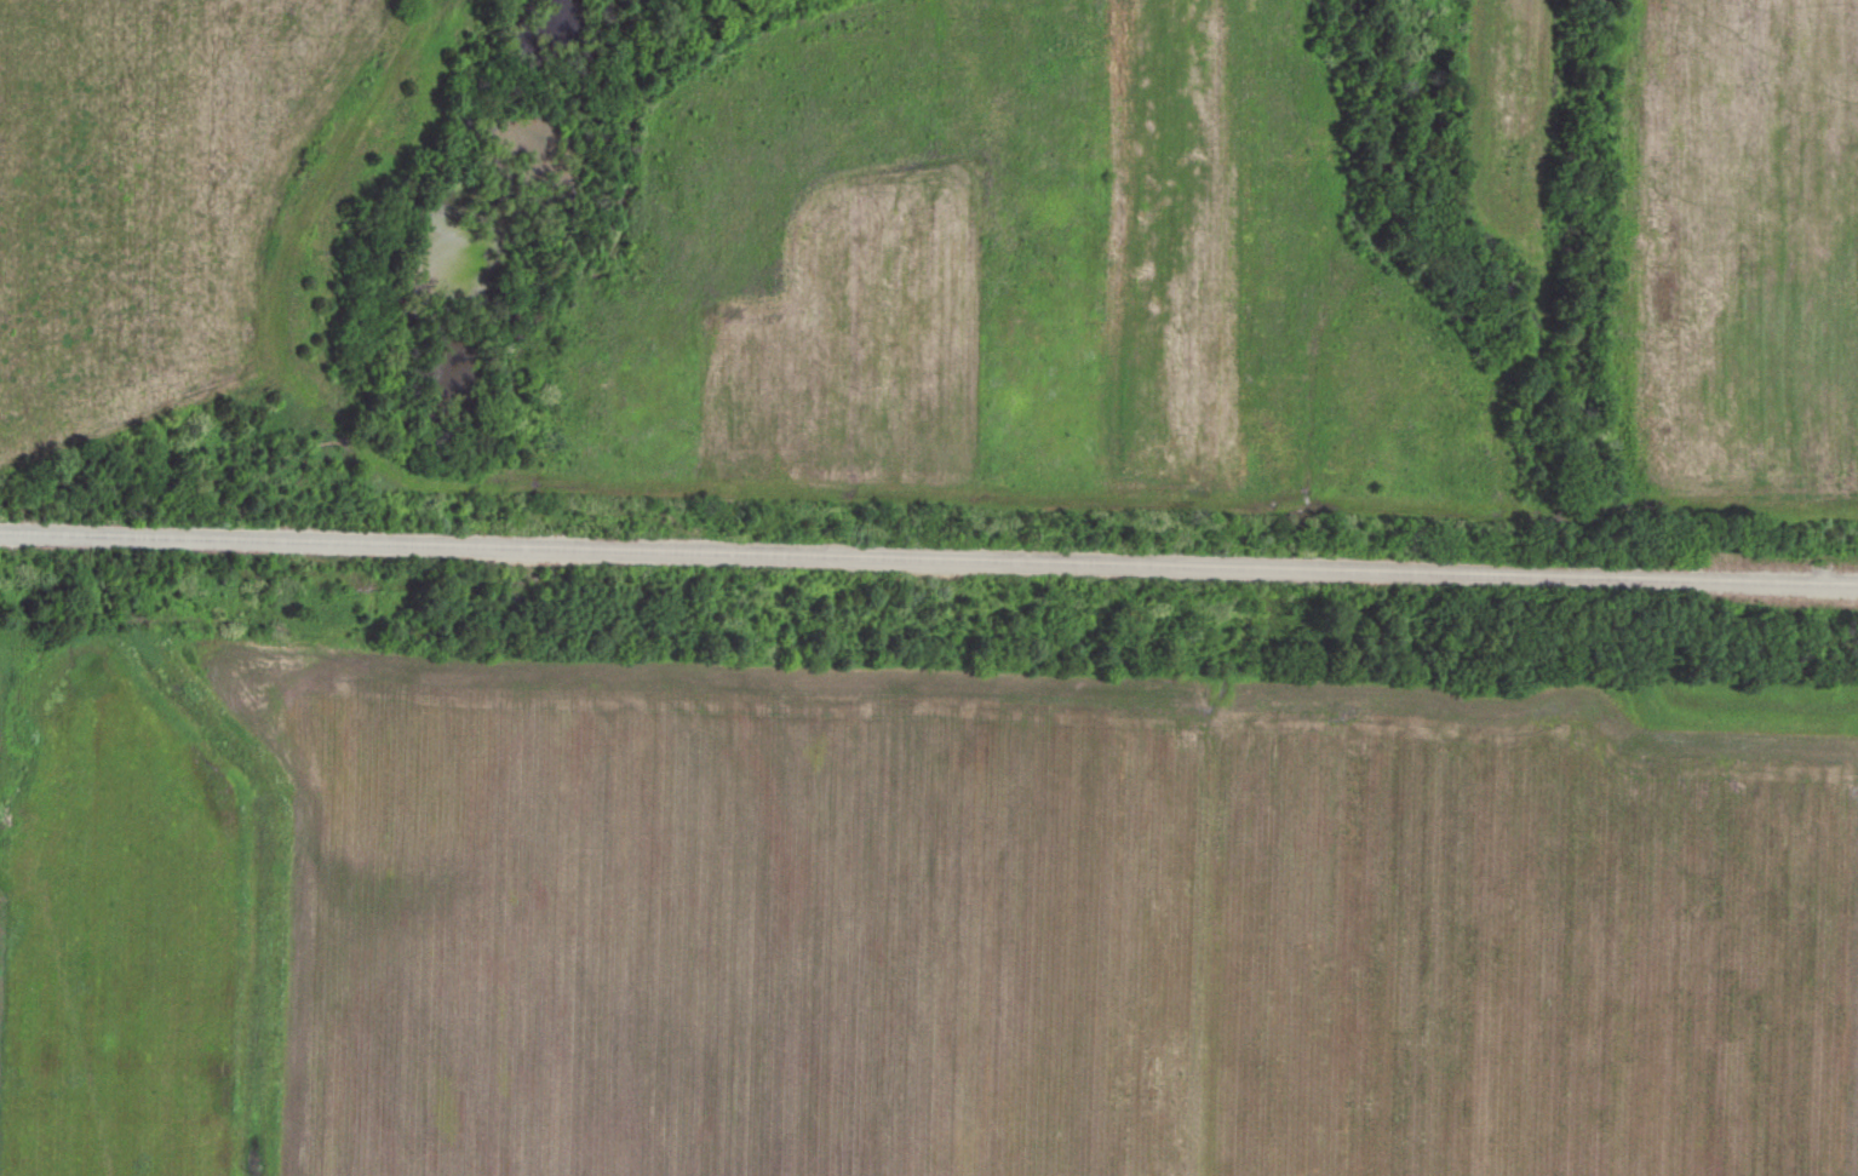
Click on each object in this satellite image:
railway: (929, 541)

